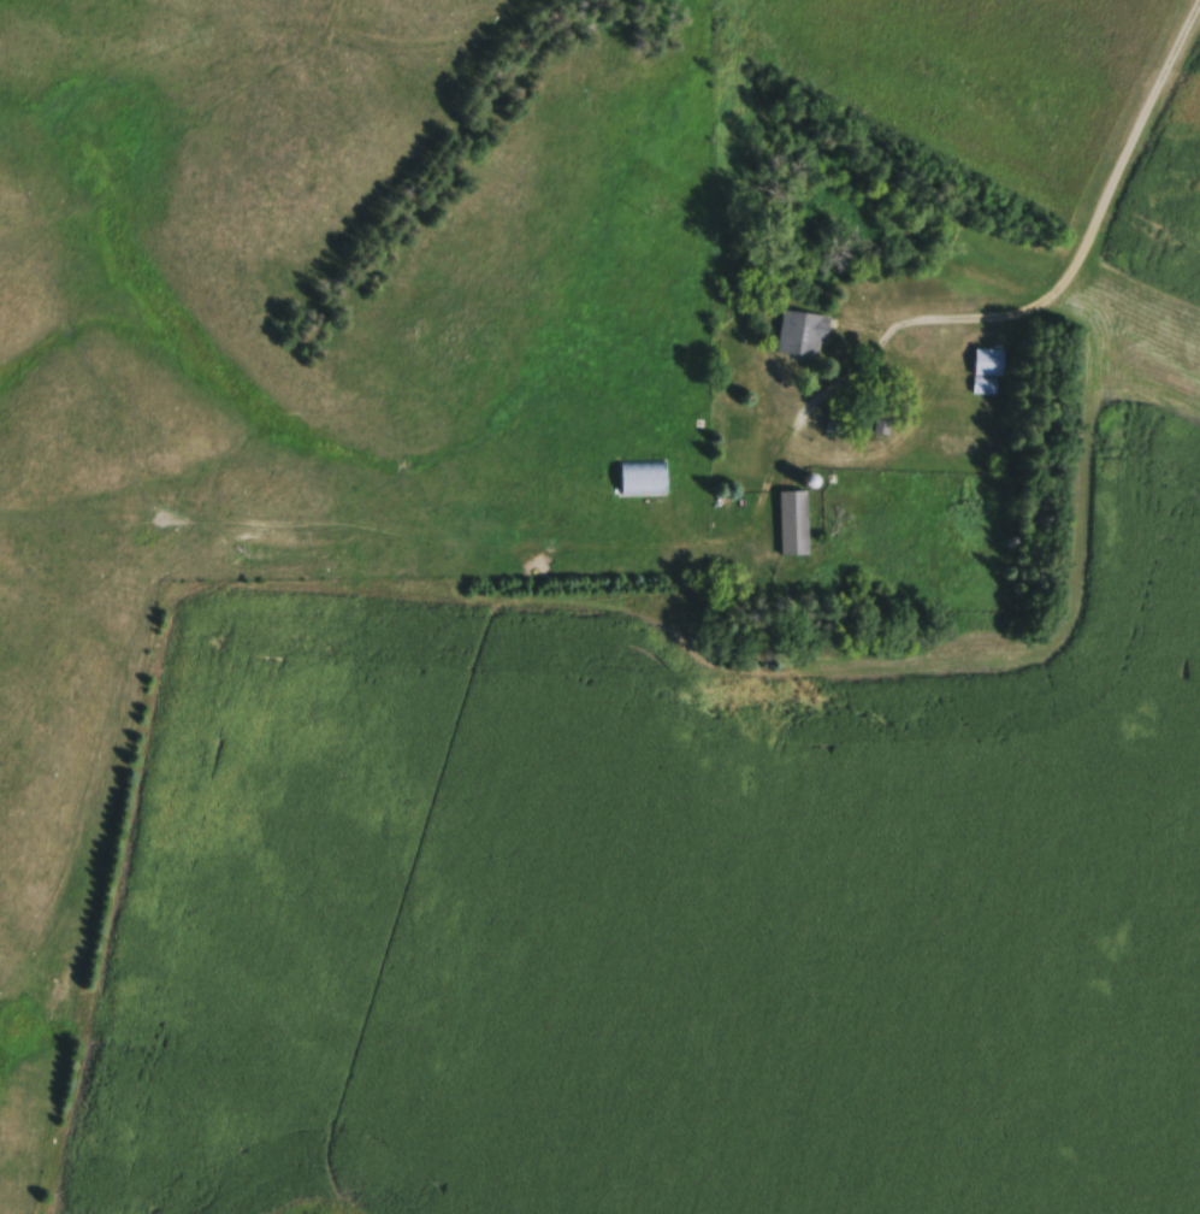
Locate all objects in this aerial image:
road: (1086, 247)
building: (804, 337)
building: (987, 372)
building: (643, 479)
building: (796, 526)

